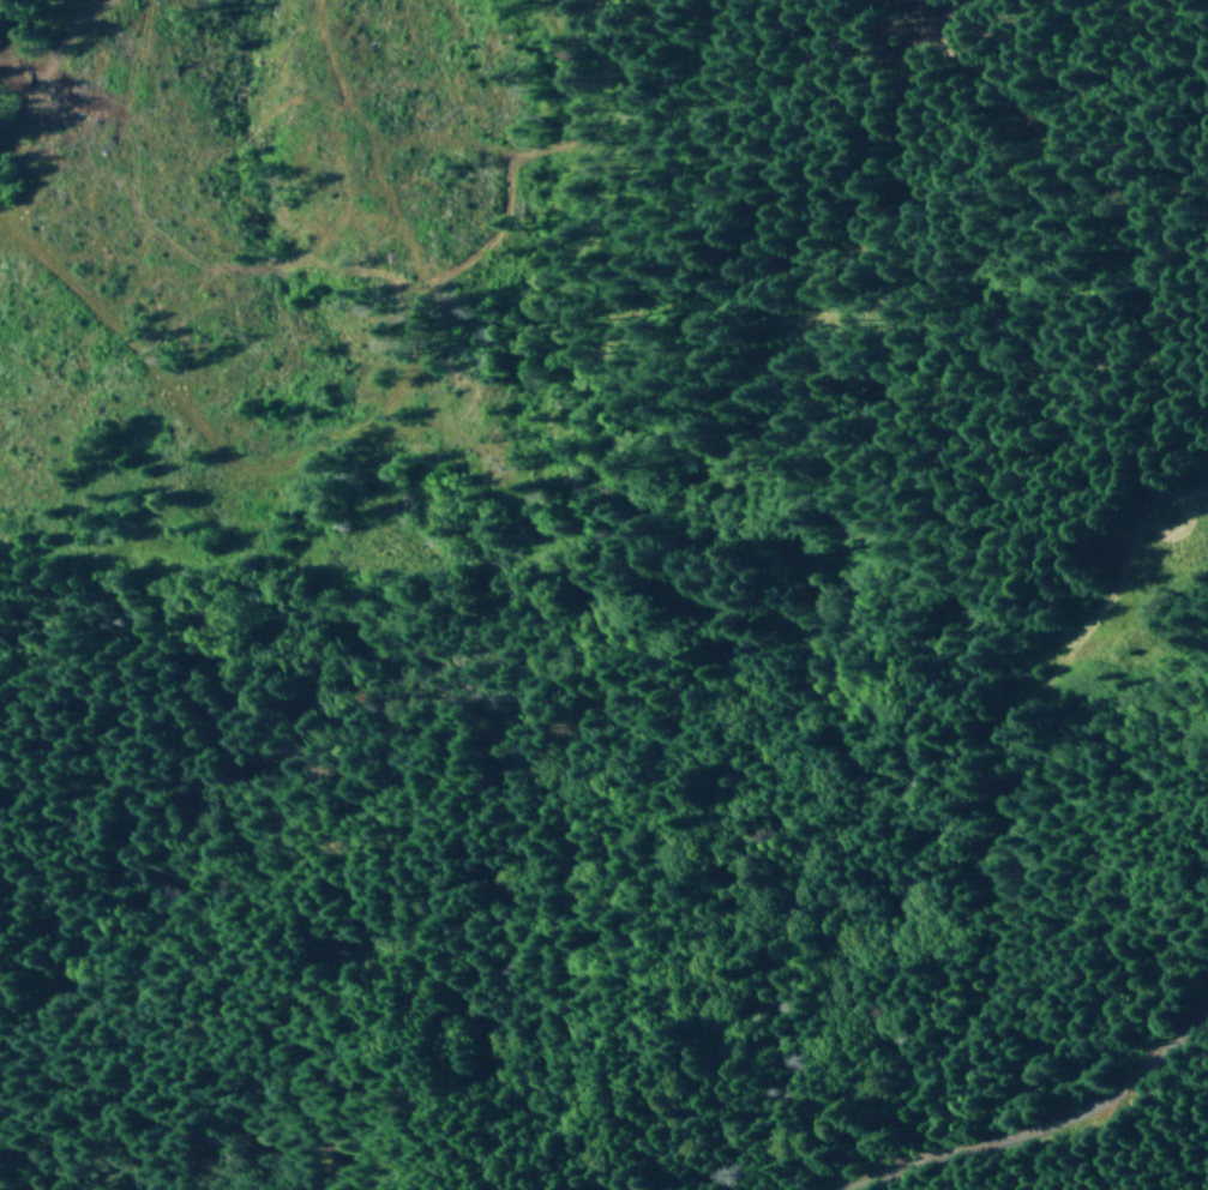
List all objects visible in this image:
road: (1023, 233)

